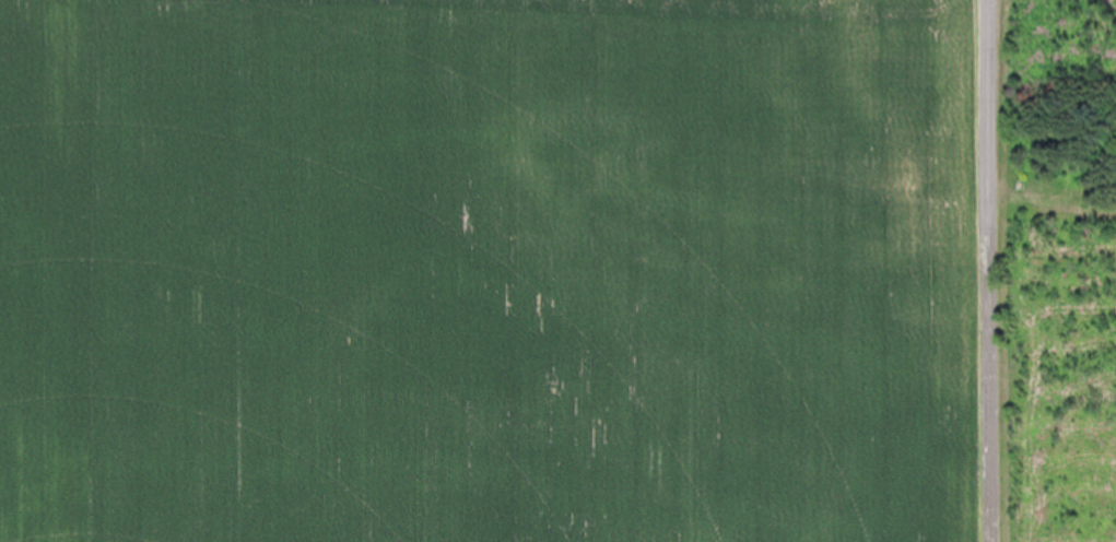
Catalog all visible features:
road: (991, 271)

